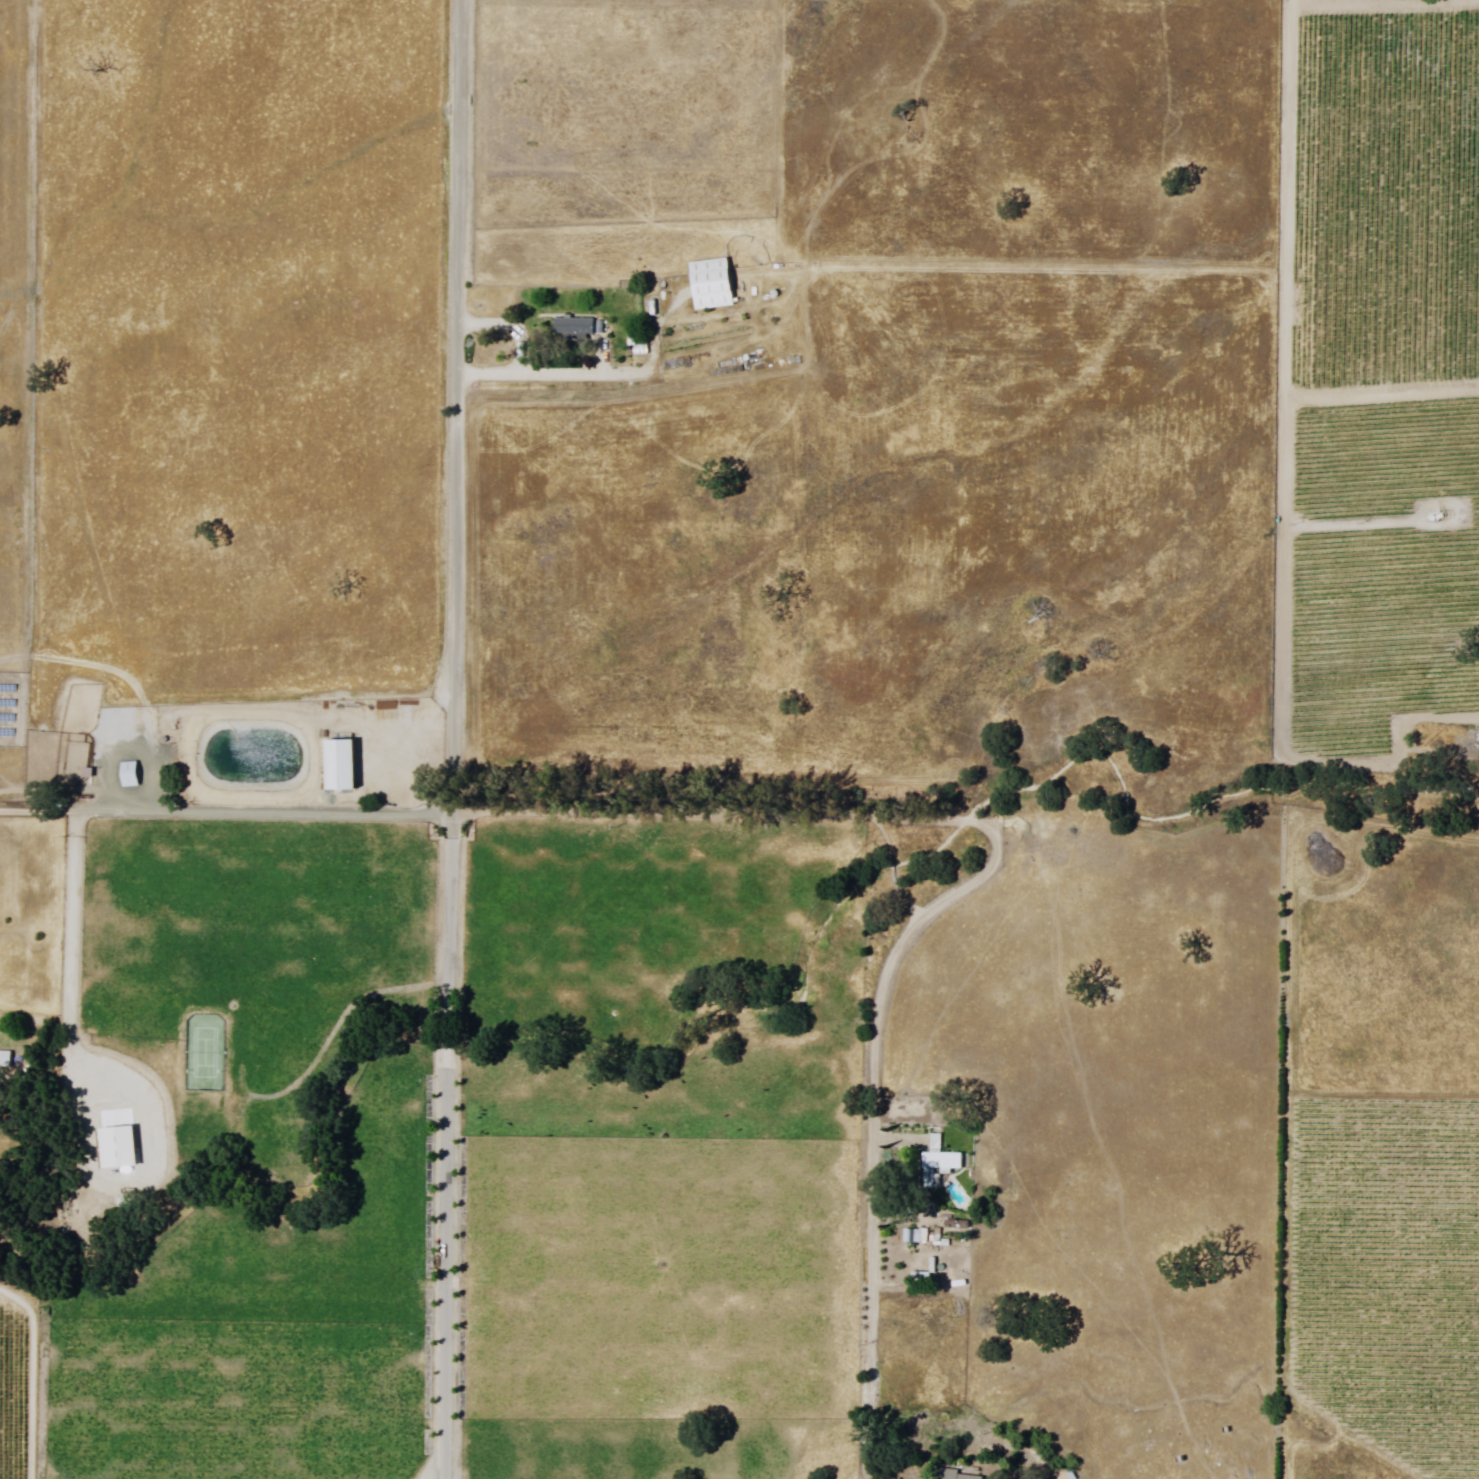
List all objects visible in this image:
building: (714, 285)
building: (576, 328)
building: (637, 347)
road: (540, 367)
road: (1283, 373)
road: (451, 739)
building: (344, 767)
building: (128, 774)
road: (843, 813)
park: (208, 1054)
building: (6, 1060)
building: (123, 1145)
building: (942, 1157)
road: (443, 1473)
building: (955, 1473)

